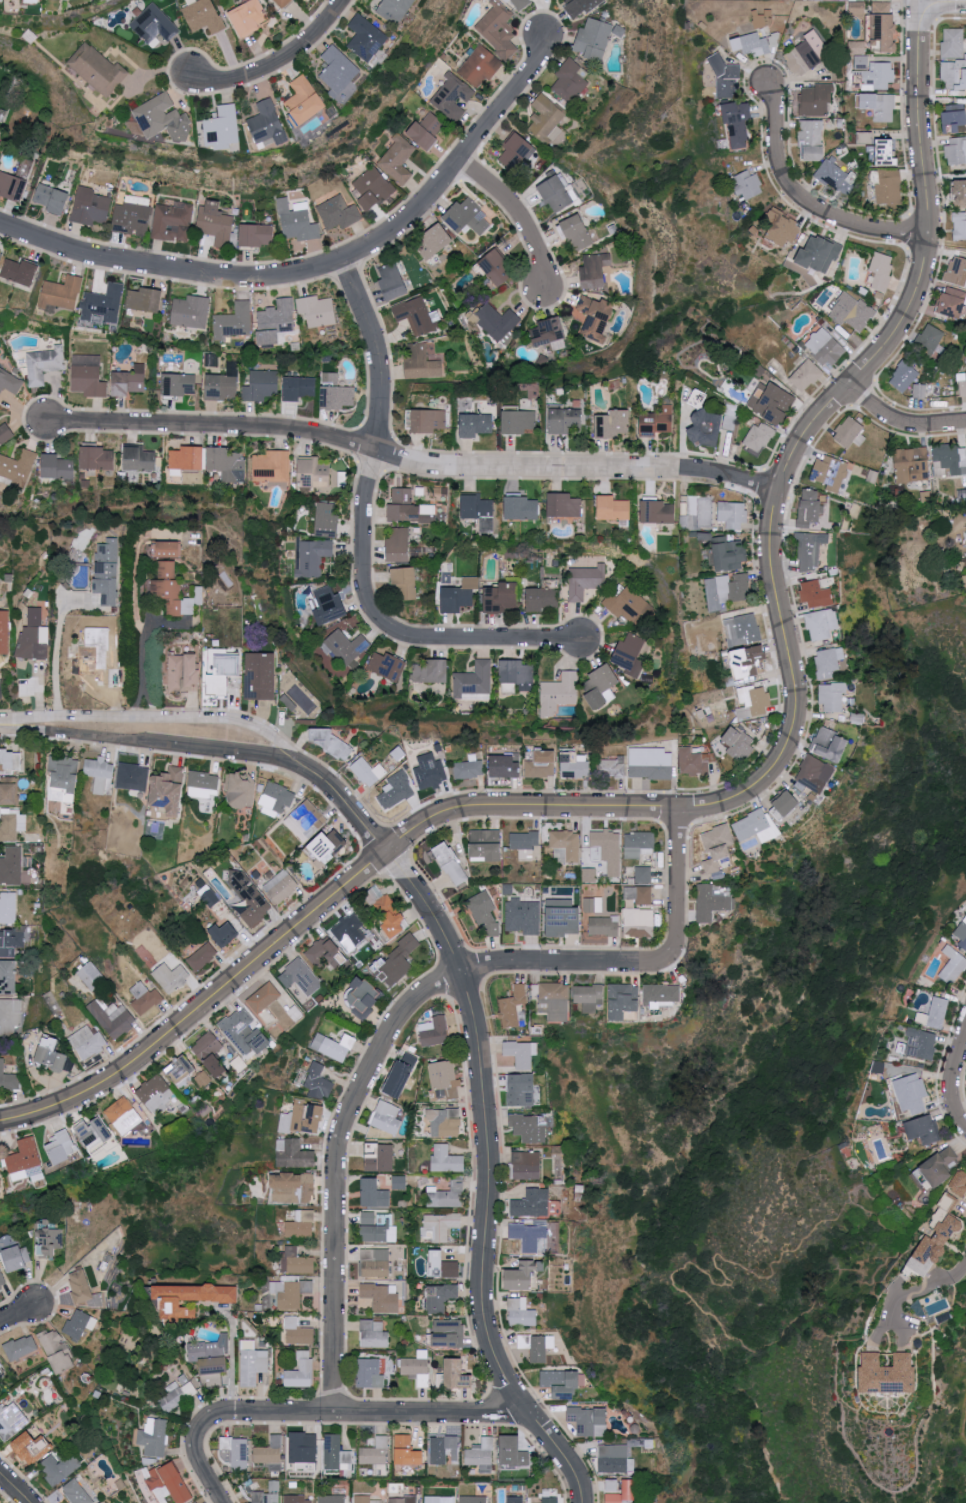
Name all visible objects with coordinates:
building: (31, 1)
building: (285, 2)
road: (942, 2)
building: (519, 3)
building: (577, 7)
building: (396, 10)
building: (204, 16)
building: (249, 17)
building: (154, 25)
building: (886, 28)
building: (498, 29)
building: (367, 38)
building: (595, 38)
building: (755, 43)
building: (952, 44)
building: (858, 47)
building: (808, 54)
building: (863, 62)
road: (278, 63)
building: (480, 65)
building: (98, 69)
building: (339, 72)
building: (879, 75)
building: (953, 77)
building: (727, 78)
building: (571, 80)
building: (453, 96)
building: (816, 100)
building: (304, 101)
building: (880, 106)
building: (163, 118)
building: (546, 118)
building: (952, 122)
building: (267, 123)
building: (739, 124)
building: (223, 128)
building: (428, 130)
building: (811, 140)
building: (515, 150)
building: (887, 152)
building: (956, 152)
building: (397, 159)
building: (835, 177)
building: (747, 185)
building: (13, 186)
building: (374, 187)
building: (890, 187)
building: (557, 193)
building: (959, 195)
building: (52, 198)
road: (809, 201)
building: (90, 206)
building: (338, 212)
road: (519, 216)
building: (468, 217)
building: (131, 218)
building: (296, 220)
building: (172, 222)
building: (215, 223)
building: (959, 226)
building: (780, 228)
building: (577, 231)
building: (257, 235)
building: (435, 243)
building: (821, 253)
building: (0, 254)
road: (320, 267)
building: (497, 267)
building: (596, 270)
building: (881, 270)
building: (21, 272)
building: (956, 273)
building: (393, 280)
building: (61, 292)
building: (145, 299)
building: (103, 303)
building: (950, 306)
building: (318, 310)
building: (191, 311)
building: (852, 311)
building: (417, 315)
building: (596, 316)
building: (235, 321)
building: (275, 321)
building: (497, 322)
building: (550, 334)
building: (929, 338)
building: (825, 348)
building: (422, 362)
building: (44, 364)
building: (88, 375)
building: (807, 375)
building: (902, 375)
building: (130, 381)
building: (10, 382)
building: (962, 383)
building: (180, 384)
building: (224, 384)
building: (261, 385)
building: (299, 387)
building: (920, 390)
building: (338, 397)
building: (698, 399)
building: (772, 402)
building: (426, 420)
building: (518, 420)
building: (563, 420)
road: (900, 420)
building: (658, 423)
building: (476, 424)
building: (613, 424)
road: (810, 426)
building: (707, 427)
building: (5, 433)
building: (848, 435)
building: (759, 436)
building: (98, 457)
building: (140, 459)
building: (186, 459)
road: (411, 461)
building: (949, 462)
building: (227, 464)
building: (18, 465)
building: (910, 465)
building: (271, 466)
building: (57, 467)
building: (320, 474)
building: (830, 475)
building: (401, 495)
building: (564, 505)
building: (522, 507)
building: (614, 508)
building: (409, 511)
building: (480, 511)
building: (809, 511)
building: (658, 512)
building: (696, 513)
building: (733, 515)
building: (328, 520)
road: (364, 540)
building: (399, 544)
building: (169, 549)
building: (730, 554)
building: (808, 554)
building: (312, 557)
building: (106, 571)
building: (585, 580)
building: (405, 582)
building: (733, 588)
building: (170, 590)
building: (460, 595)
building: (503, 598)
building: (543, 599)
building: (816, 599)
building: (329, 605)
building: (628, 605)
building: (818, 628)
building: (743, 629)
building: (4, 631)
building: (34, 636)
building: (346, 646)
road: (141, 652)
building: (630, 654)
building: (97, 655)
road: (55, 657)
building: (749, 662)
building: (388, 665)
building: (829, 665)
building: (185, 672)
building: (431, 672)
building: (226, 675)
building: (262, 676)
building: (516, 676)
building: (473, 680)
building: (602, 687)
road: (142, 692)
building: (559, 693)
building: (832, 700)
building: (753, 702)
road: (158, 719)
road: (5, 727)
building: (329, 741)
road: (151, 743)
building: (739, 743)
building: (830, 747)
building: (10, 759)
building: (694, 762)
building: (544, 763)
building: (651, 763)
building: (576, 764)
building: (508, 765)
building: (613, 765)
building: (470, 767)
building: (368, 771)
building: (430, 771)
building: (98, 773)
building: (815, 775)
building: (63, 778)
building: (133, 779)
building: (203, 783)
building: (241, 789)
building: (167, 790)
building: (396, 790)
building: (9, 792)
building: (276, 798)
road: (342, 801)
road: (525, 804)
building: (785, 808)
building: (306, 819)
building: (11, 825)
building: (755, 831)
building: (523, 844)
building: (329, 846)
building: (566, 846)
building: (719, 846)
building: (637, 847)
building: (485, 849)
building: (604, 849)
building: (11, 866)
building: (451, 868)
building: (589, 874)
building: (643, 874)
road: (677, 876)
building: (281, 886)
building: (639, 894)
building: (249, 899)
building: (8, 907)
building: (711, 907)
building: (483, 917)
building: (390, 919)
building: (522, 921)
building: (637, 925)
building: (564, 928)
building: (603, 929)
building: (225, 932)
building: (962, 933)
building: (348, 934)
building: (11, 941)
building: (202, 956)
building: (322, 957)
building: (401, 959)
road: (571, 962)
building: (953, 965)
building: (91, 975)
building: (8, 976)
building: (171, 976)
building: (299, 977)
building: (144, 998)
building: (589, 998)
building: (664, 998)
building: (365, 999)
building: (263, 1001)
road: (203, 1002)
building: (554, 1004)
building: (624, 1004)
building: (512, 1010)
building: (935, 1013)
building: (10, 1014)
building: (112, 1018)
building: (237, 1034)
building: (434, 1037)
building: (87, 1042)
building: (921, 1043)
building: (207, 1049)
building: (333, 1050)
building: (51, 1054)
building: (519, 1057)
building: (181, 1073)
building: (402, 1077)
building: (443, 1078)
building: (7, 1079)
building: (317, 1084)
road: (952, 1088)
building: (152, 1092)
building: (522, 1098)
building: (913, 1104)
building: (118, 1113)
building: (305, 1118)
building: (386, 1121)
building: (439, 1127)
building: (924, 1129)
building: (532, 1134)
building: (93, 1137)
building: (62, 1151)
building: (294, 1158)
building: (23, 1159)
building: (447, 1163)
building: (381, 1164)
road: (336, 1167)
building: (525, 1169)
building: (937, 1169)
road: (486, 1177)
building: (399, 1182)
building: (959, 1182)
building: (0, 1188)
building: (292, 1191)
building: (373, 1198)
building: (948, 1201)
building: (444, 1203)
building: (533, 1207)
building: (301, 1229)
building: (441, 1229)
building: (371, 1232)
building: (51, 1239)
building: (529, 1239)
building: (939, 1240)
building: (17, 1257)
building: (373, 1267)
building: (436, 1267)
building: (301, 1269)
road: (496, 1278)
building: (2, 1279)
building: (524, 1280)
building: (83, 1289)
road: (914, 1290)
building: (0, 1293)
building: (191, 1298)
building: (289, 1300)
building: (379, 1301)
building: (441, 1302)
road: (16, 1313)
building: (521, 1316)
building: (79, 1324)
building: (297, 1335)
building: (448, 1337)
building: (372, 1338)
building: (20, 1347)
building: (56, 1350)
building: (536, 1350)
building: (211, 1359)
road: (232, 1359)
building: (252, 1362)
building: (0, 1364)
building: (414, 1371)
building: (889, 1373)
building: (301, 1375)
building: (452, 1377)
building: (369, 1378)
building: (560, 1386)
building: (178, 1393)
road: (363, 1412)
building: (11, 1420)
building: (587, 1422)
building: (155, 1437)
building: (31, 1447)
building: (298, 1448)
building: (437, 1452)
building: (235, 1453)
building: (268, 1453)
building: (335, 1454)
building: (374, 1454)
building: (513, 1454)
building: (406, 1455)
building: (481, 1457)
building: (612, 1462)
road: (204, 1465)
building: (59, 1466)
building: (375, 1468)
building: (172, 1482)
building: (614, 1484)
road: (14, 1488)
building: (251, 1491)
building: (75, 1492)
building: (624, 1494)
building: (294, 1499)
building: (330, 1499)
building: (361, 1499)
building: (437, 1499)
building: (472, 1500)
building: (514, 1500)
building: (190, 1501)
building: (403, 1501)
building: (377, 1502)
building: (550, 1502)

